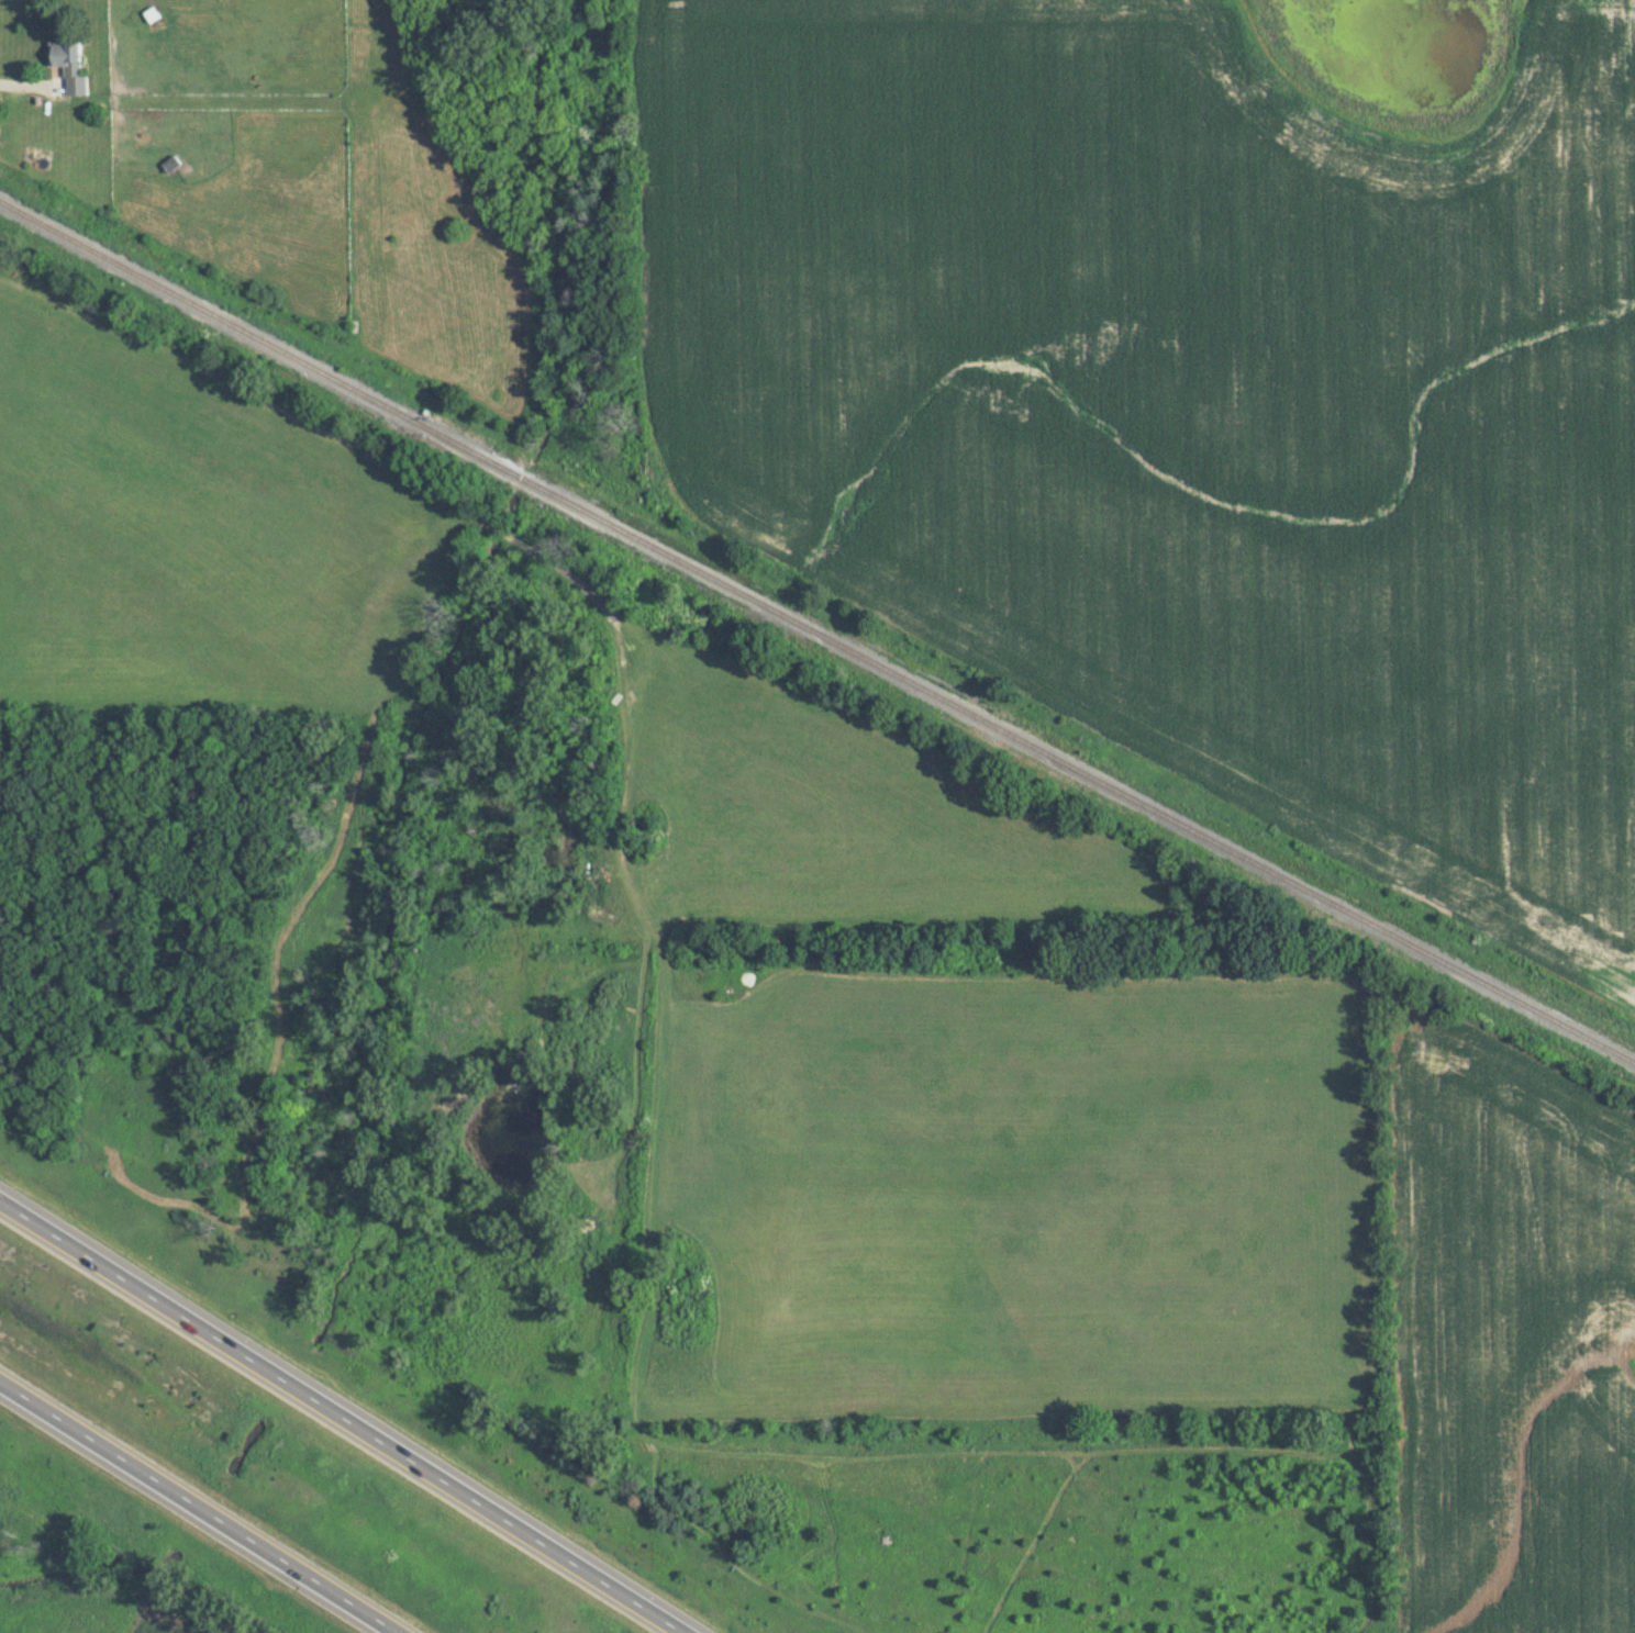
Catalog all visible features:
building: (69, 65)
road: (30, 78)
railway: (816, 629)
road: (345, 1416)
road: (192, 1509)

